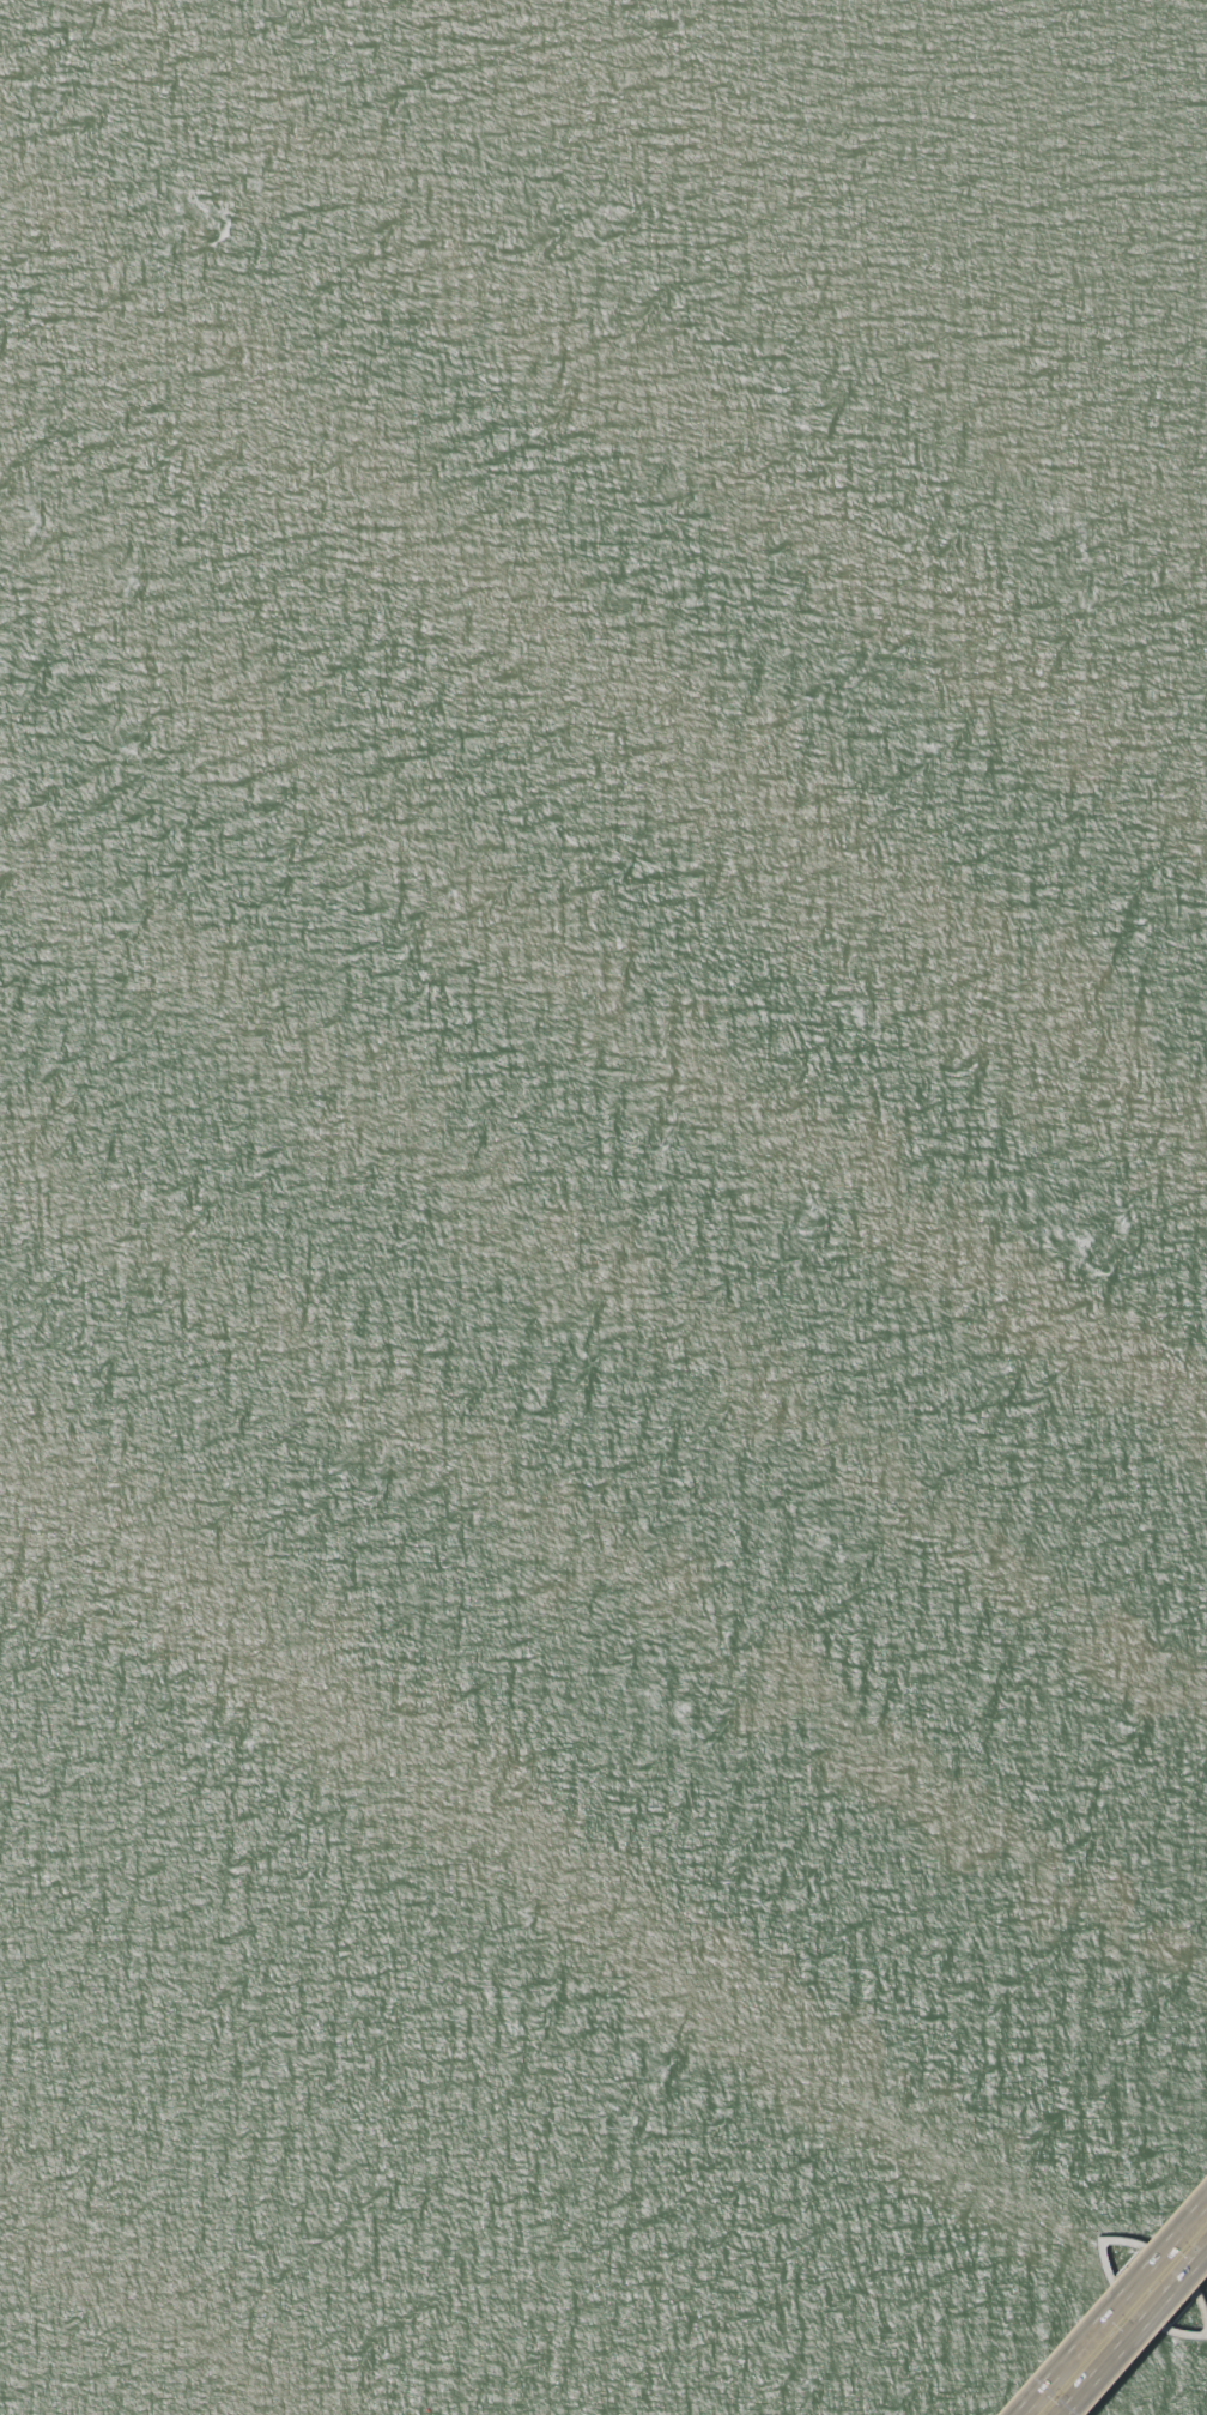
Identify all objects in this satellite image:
road: (1112, 2306)
road: (1134, 2330)

